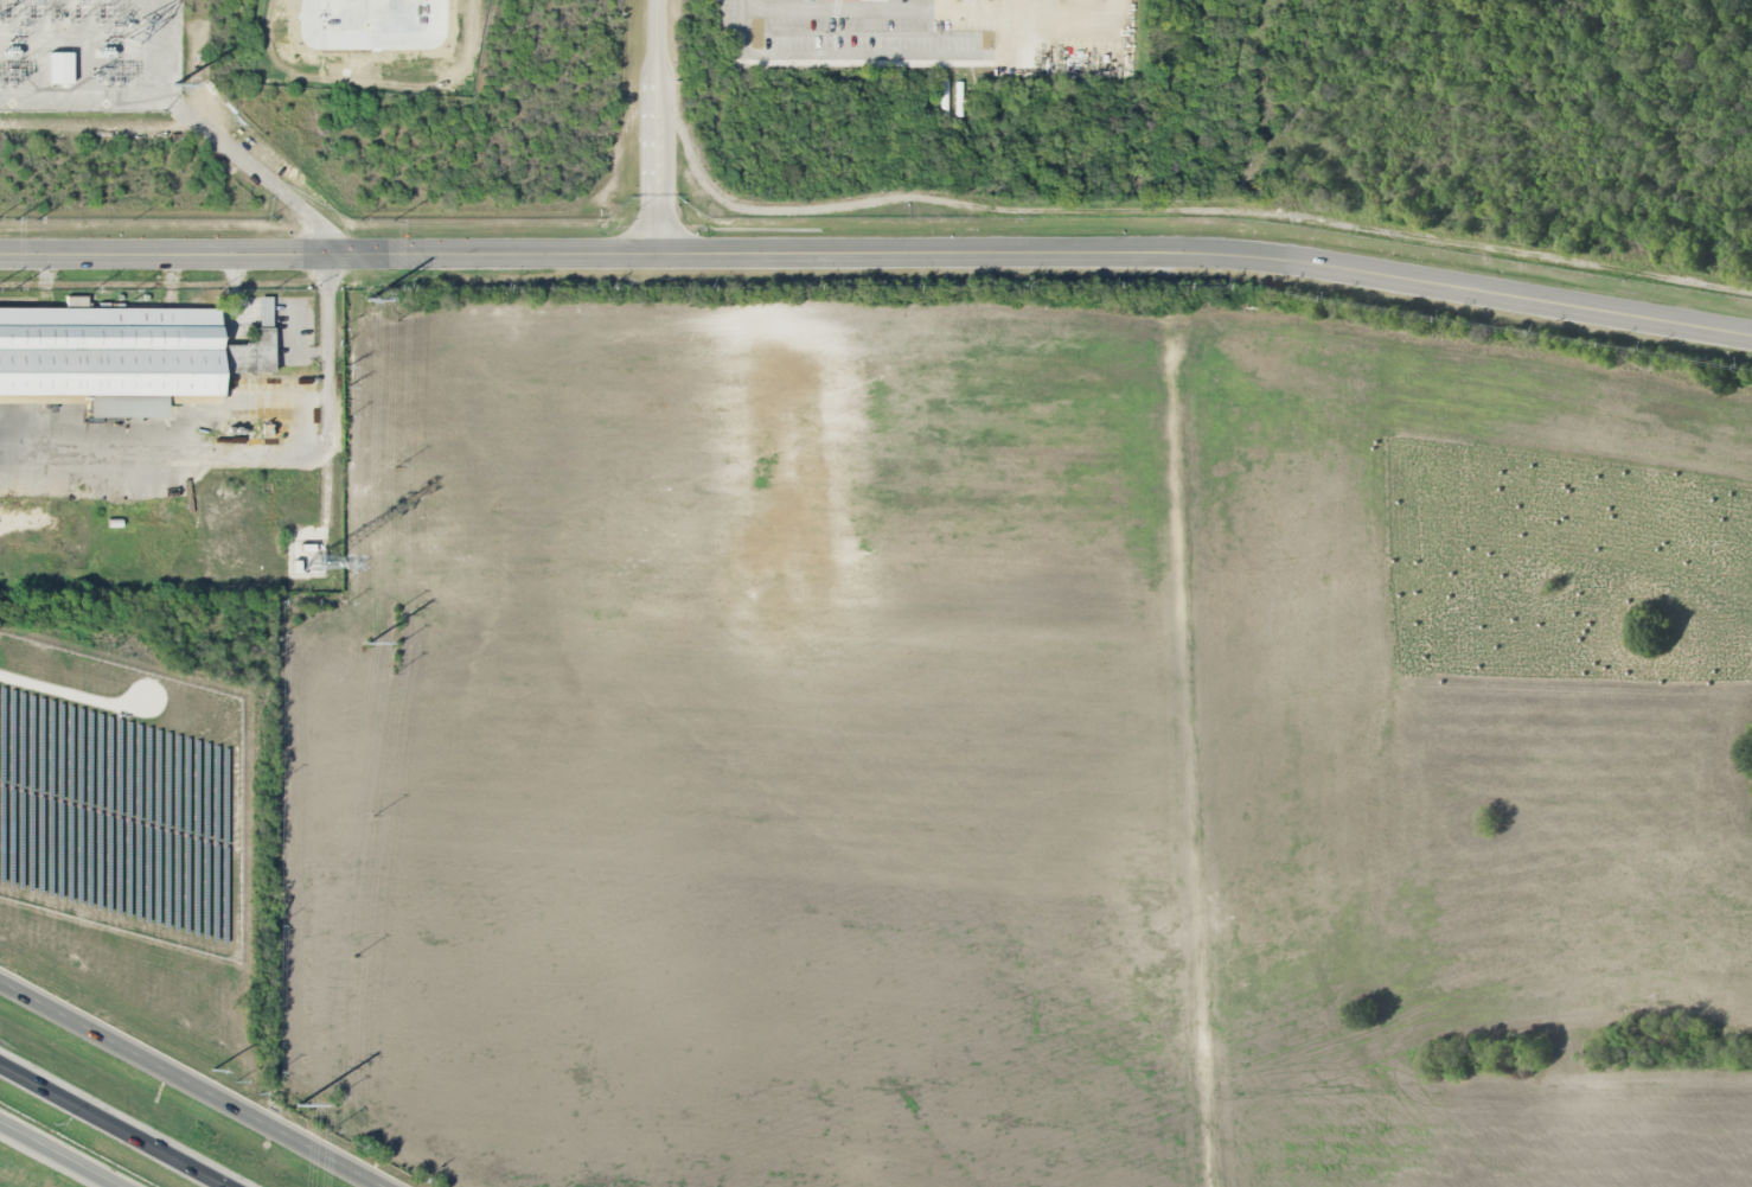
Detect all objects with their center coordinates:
road: (1083, 4)
road: (1124, 4)
road: (838, 8)
road: (1029, 8)
road: (1016, 39)
power substation: (89, 55)
road: (839, 57)
building: (60, 68)
power tower: (175, 84)
road: (657, 127)
road: (260, 172)
road: (878, 254)
power tower: (369, 299)
building: (254, 346)
building: (110, 351)
road: (257, 460)
power tower: (367, 644)
road: (1190, 720)
road: (190, 1086)
power tower: (298, 1105)
road: (115, 1124)
road: (58, 1155)

